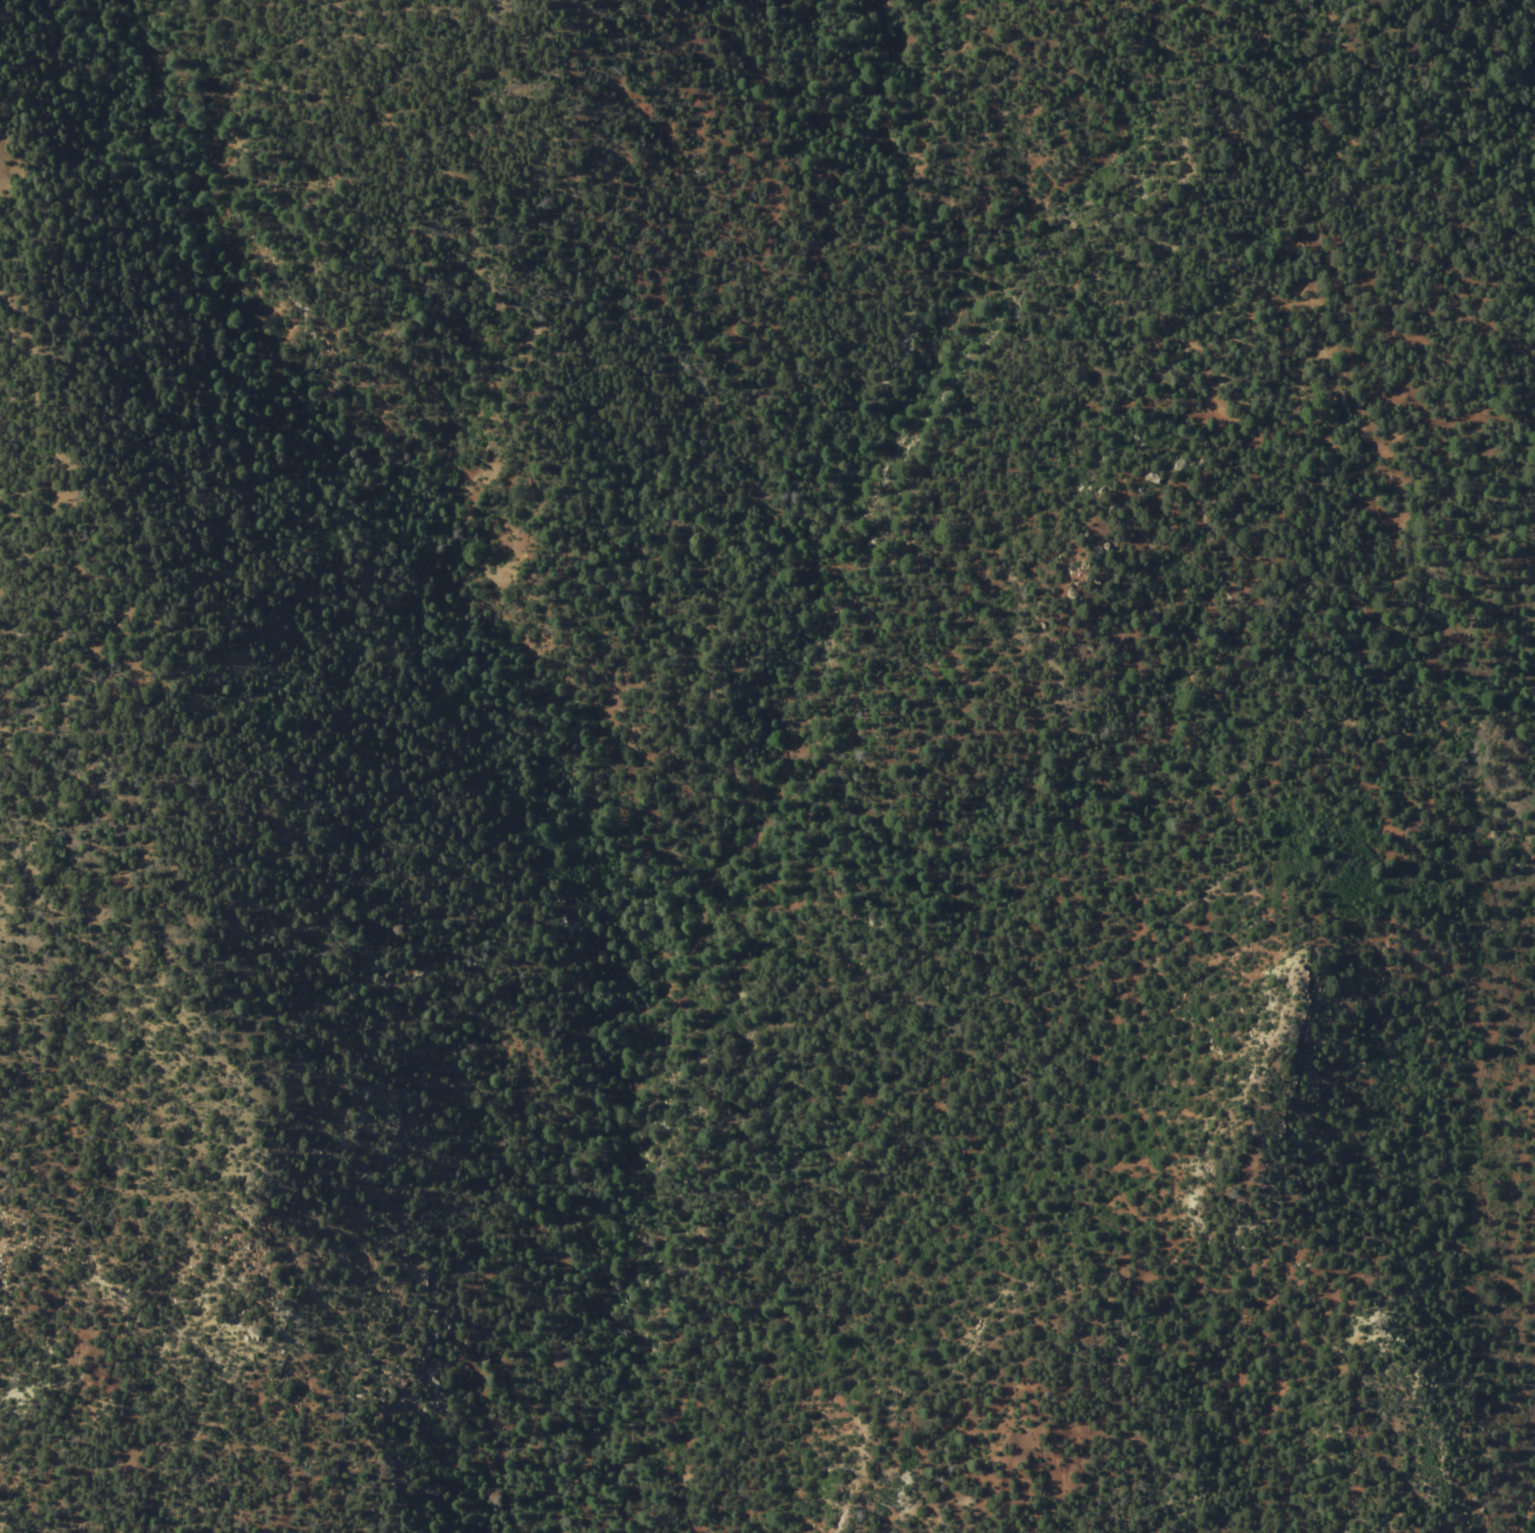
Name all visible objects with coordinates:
road: (1317, 282)
road: (1524, 1517)

